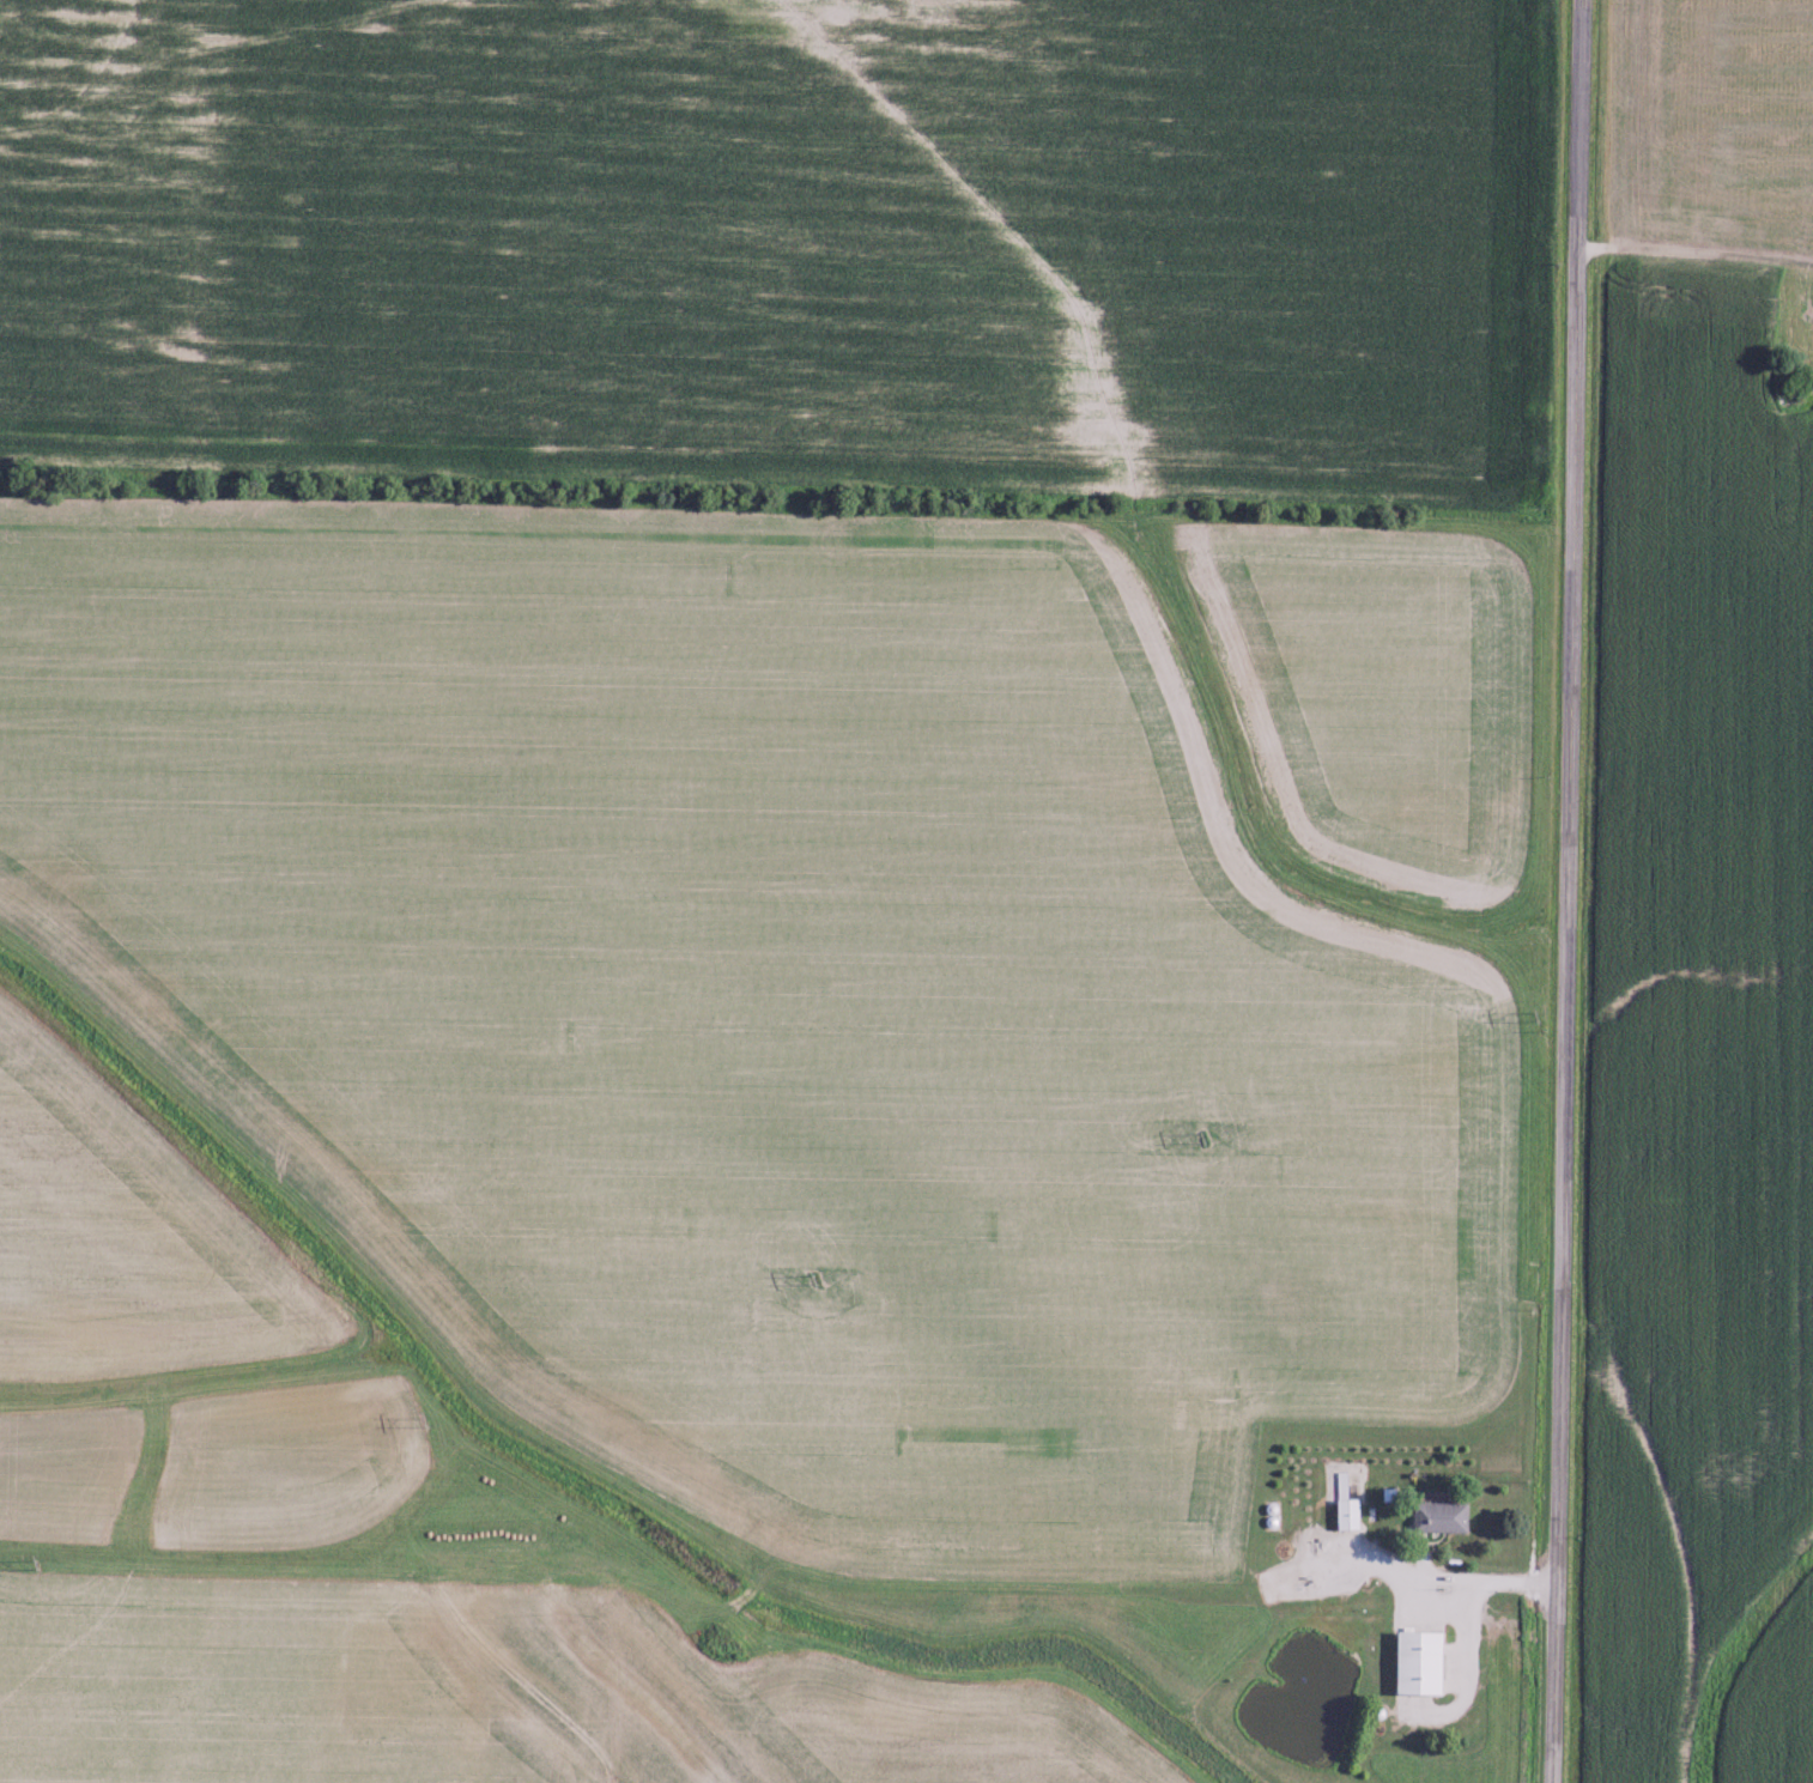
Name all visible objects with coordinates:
road: (1698, 260)
road: (1568, 891)
building: (1351, 1505)
road: (1449, 1579)
building: (1425, 1662)

